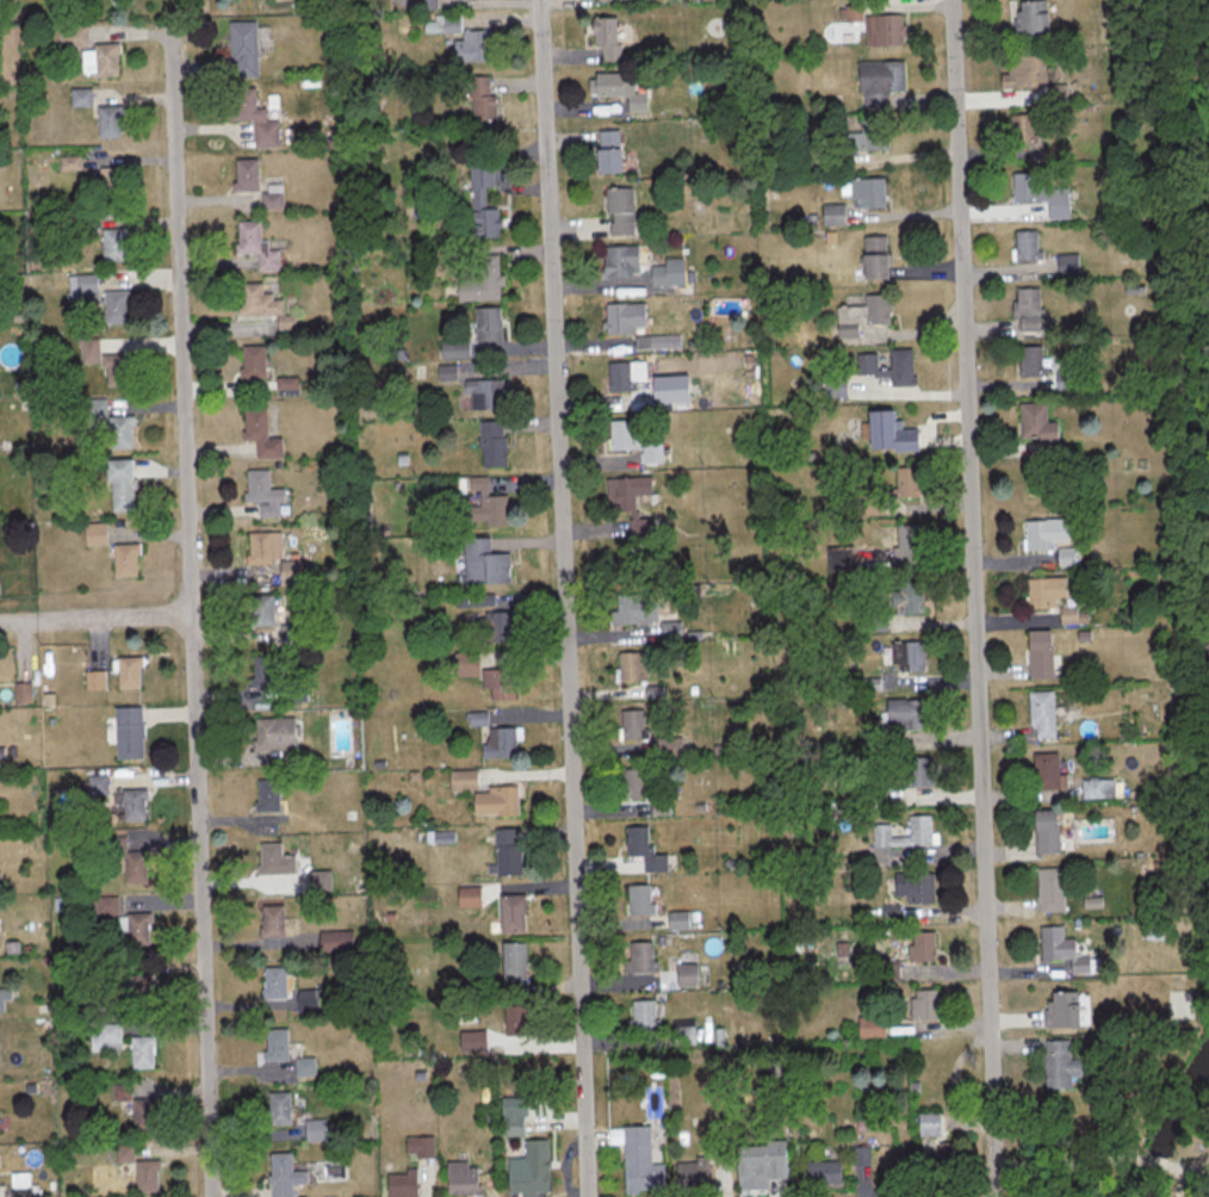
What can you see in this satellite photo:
building: (424, 2)
building: (1028, 17)
building: (882, 29)
building: (72, 35)
building: (461, 38)
building: (606, 38)
building: (241, 48)
building: (105, 58)
building: (1023, 72)
building: (879, 81)
building: (603, 83)
building: (79, 97)
building: (480, 97)
building: (252, 116)
building: (107, 120)
building: (1021, 130)
building: (868, 136)
building: (607, 150)
building: (243, 174)
building: (110, 184)
building: (1027, 188)
building: (863, 191)
building: (271, 198)
building: (480, 201)
building: (619, 210)
road: (909, 213)
building: (832, 215)
building: (112, 244)
building: (1025, 244)
building: (254, 246)
building: (873, 256)
building: (619, 260)
building: (1066, 262)
building: (666, 272)
building: (479, 279)
building: (85, 287)
building: (256, 302)
building: (114, 306)
building: (876, 308)
building: (1024, 309)
building: (624, 316)
building: (486, 323)
building: (453, 348)
building: (252, 361)
building: (1028, 361)
building: (886, 366)
building: (116, 370)
building: (624, 374)
building: (482, 393)
road: (914, 393)
park: (1190, 417)
building: (1035, 423)
building: (118, 432)
building: (888, 432)
building: (259, 433)
building: (633, 440)
building: (491, 444)
building: (905, 483)
building: (118, 485)
building: (625, 492)
building: (262, 494)
building: (485, 506)
building: (644, 528)
building: (94, 533)
building: (1035, 535)
building: (906, 540)
building: (268, 553)
building: (1066, 557)
building: (123, 560)
building: (484, 563)
road: (975, 596)
road: (566, 597)
building: (907, 597)
building: (1049, 597)
building: (626, 609)
building: (260, 610)
road: (190, 614)
road: (95, 619)
building: (489, 626)
building: (669, 631)
building: (1038, 653)
building: (911, 656)
building: (261, 671)
building: (126, 672)
building: (93, 680)
building: (497, 684)
building: (1041, 713)
building: (905, 714)
building: (631, 725)
building: (128, 732)
building: (273, 734)
building: (497, 743)
building: (1044, 770)
building: (914, 771)
building: (633, 783)
building: (1096, 787)
building: (266, 794)
building: (494, 800)
building: (132, 805)
building: (918, 830)
building: (1044, 830)
building: (643, 849)
building: (506, 850)
building: (273, 860)
building: (134, 868)
building: (913, 887)
building: (1049, 889)
building: (466, 895)
building: (639, 899)
building: (100, 906)
building: (510, 912)
building: (269, 920)
building: (136, 929)
building: (334, 941)
building: (922, 947)
building: (639, 956)
building: (511, 961)
building: (1081, 968)
building: (684, 974)
building: (273, 984)
building: (138, 992)
building: (922, 1005)
building: (1060, 1010)
building: (641, 1015)
building: (513, 1021)
building: (869, 1028)
building: (274, 1044)
building: (141, 1053)
building: (1058, 1066)
building: (304, 1067)
building: (277, 1108)
building: (143, 1115)
building: (928, 1124)
building: (510, 1125)
building: (314, 1130)
building: (418, 1147)
building: (860, 1155)
building: (635, 1159)
building: (758, 1164)
building: (938, 1164)
road: (1068, 1164)
road: (1155, 1164)
building: (821, 1171)
building: (529, 1172)
building: (689, 1174)
building: (144, 1176)
building: (283, 1176)
road: (1183, 1176)
building: (15, 1179)
building: (460, 1179)
building: (399, 1183)
road: (994, 1195)
building: (1056, 1195)

